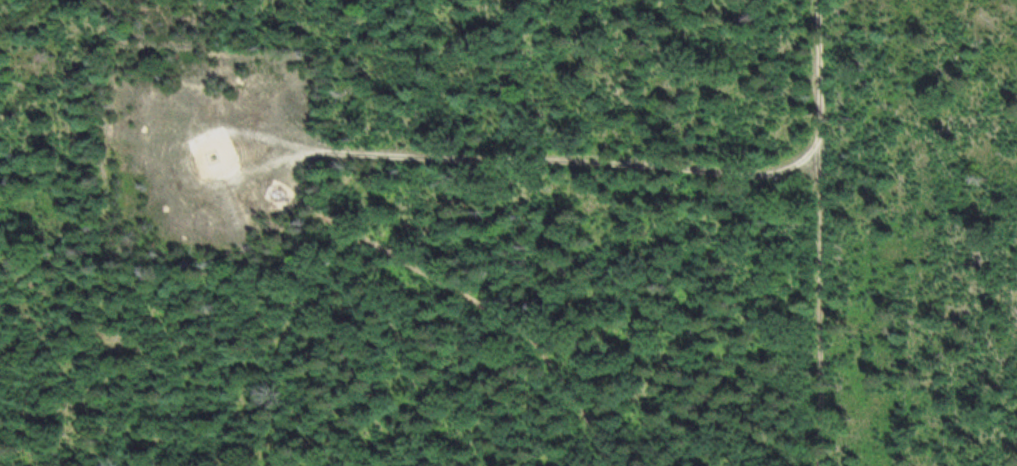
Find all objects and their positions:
road: (211, 130)
road: (386, 153)
road: (818, 309)

